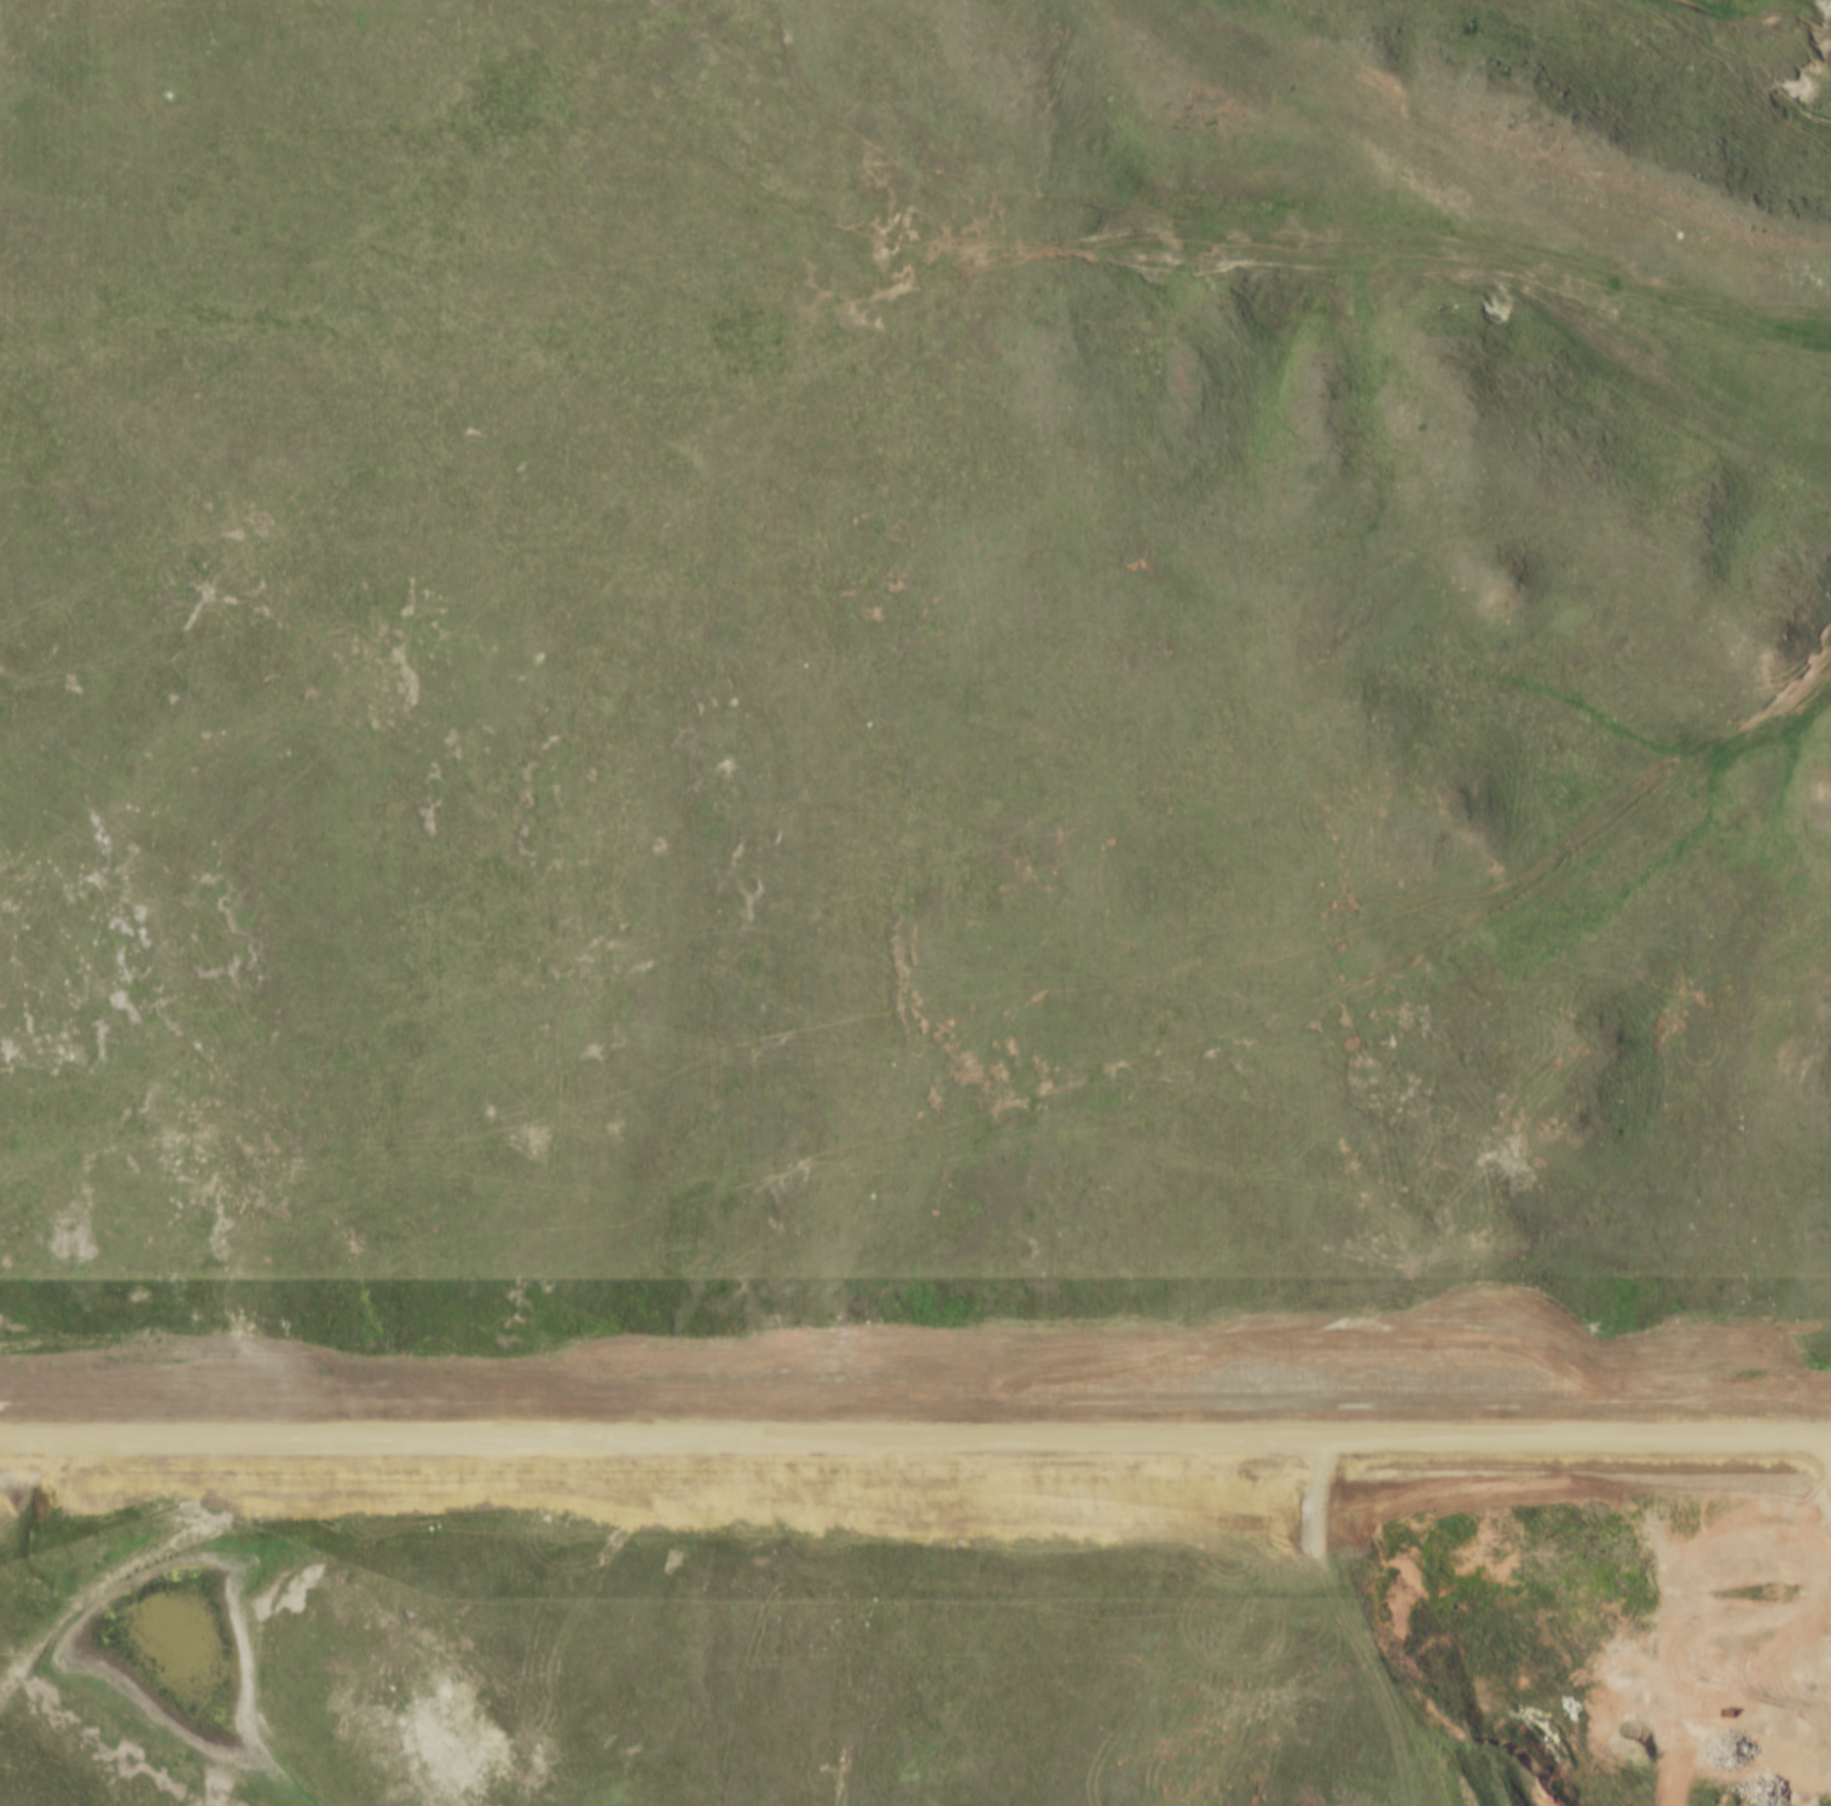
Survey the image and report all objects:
road: (915, 1430)
quarry: (1798, 1642)

